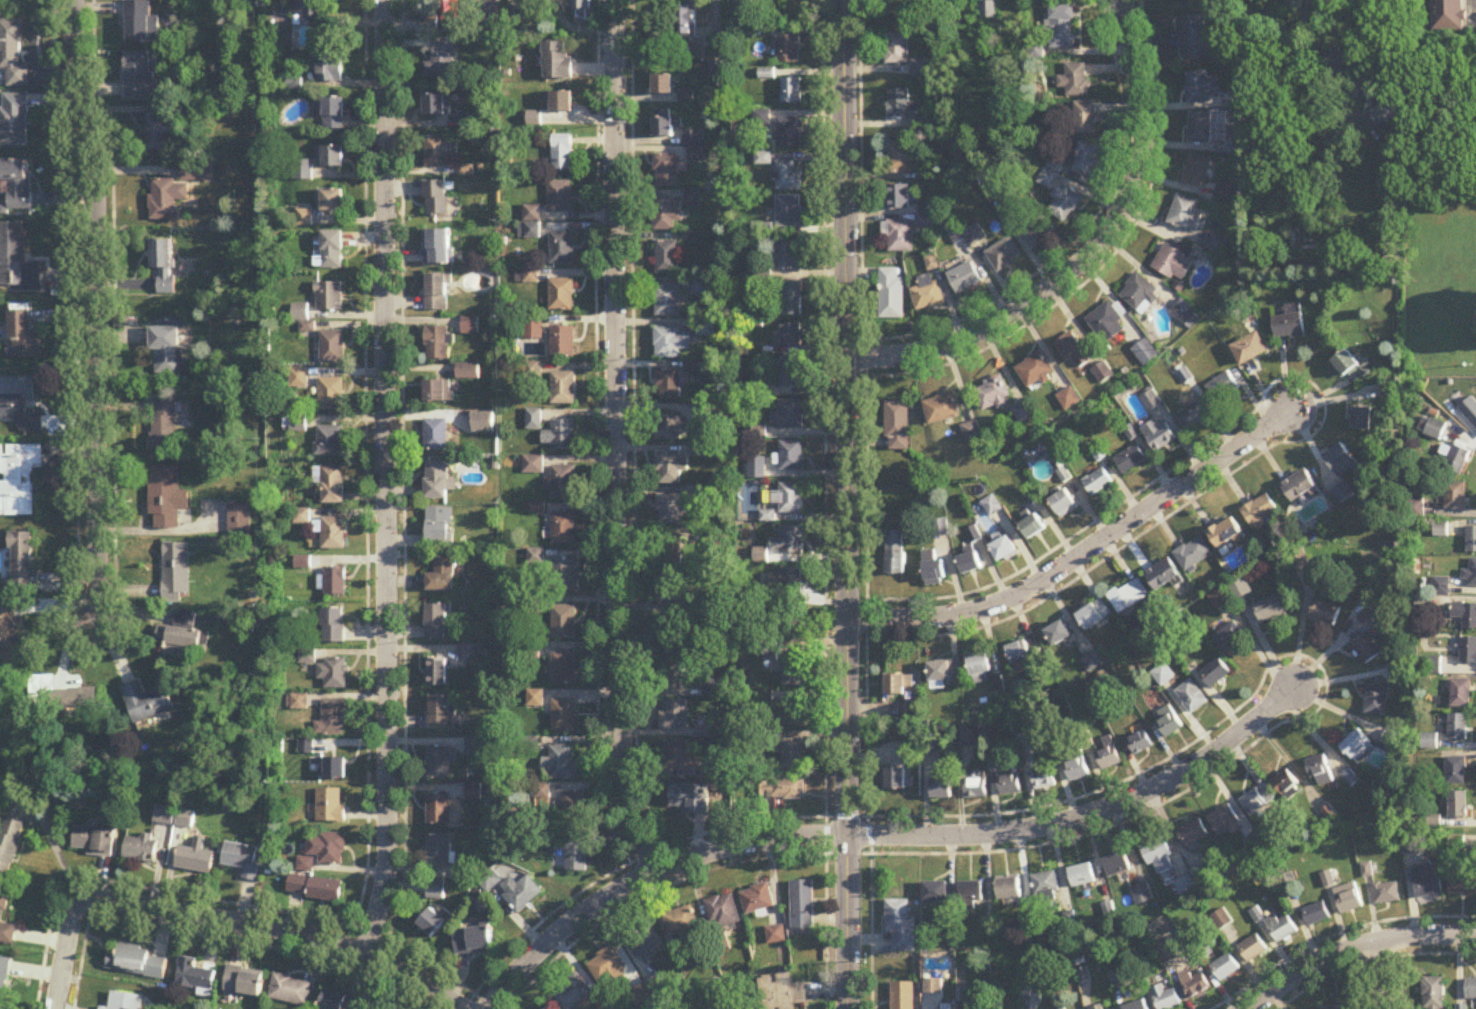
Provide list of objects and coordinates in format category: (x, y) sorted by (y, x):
building: (305, 8)
building: (449, 10)
building: (582, 10)
building: (987, 10)
building: (1447, 16)
building: (687, 21)
building: (140, 23)
building: (1061, 28)
building: (1194, 39)
building: (284, 44)
building: (788, 49)
building: (897, 49)
building: (441, 61)
building: (557, 62)
building: (1343, 63)
building: (327, 69)
building: (919, 69)
building: (140, 76)
building: (1075, 80)
building: (662, 85)
building: (1201, 89)
building: (792, 92)
building: (686, 98)
building: (1230, 101)
road: (1320, 101)
building: (560, 102)
building: (899, 103)
building: (16, 105)
building: (437, 105)
building: (330, 112)
building: (763, 118)
building: (1085, 118)
building: (665, 127)
building: (1199, 130)
building: (160, 134)
building: (790, 134)
building: (692, 145)
building: (1223, 148)
building: (436, 151)
building: (563, 153)
building: (330, 157)
building: (900, 158)
building: (1086, 160)
building: (304, 171)
building: (665, 171)
building: (1051, 171)
building: (1196, 171)
building: (789, 177)
building: (1222, 192)
building: (560, 197)
building: (897, 197)
building: (166, 199)
building: (436, 199)
building: (331, 200)
building: (1063, 203)
building: (789, 212)
building: (665, 214)
building: (1187, 215)
building: (925, 221)
building: (1037, 232)
road: (1080, 234)
building: (974, 236)
building: (900, 237)
building: (1217, 245)
building: (439, 247)
building: (562, 248)
building: (332, 250)
road: (1089, 254)
building: (788, 255)
building: (1003, 255)
building: (667, 257)
road: (1108, 261)
building: (1173, 263)
building: (163, 265)
building: (964, 279)
building: (438, 293)
building: (890, 294)
building: (926, 294)
building: (1139, 294)
building: (562, 295)
building: (330, 297)
building: (790, 300)
building: (667, 301)
road: (96, 311)
building: (1182, 312)
building: (1106, 323)
building: (1290, 323)
building: (471, 326)
building: (792, 337)
building: (563, 342)
building: (670, 343)
building: (438, 344)
building: (333, 347)
building: (165, 349)
building: (1249, 349)
building: (1072, 352)
building: (1146, 353)
building: (1344, 366)
building: (1035, 371)
building: (469, 372)
building: (791, 373)
building: (1103, 373)
building: (668, 384)
building: (1221, 388)
building: (563, 389)
building: (439, 392)
building: (333, 395)
building: (993, 396)
building: (1069, 400)
building: (1150, 401)
road: (1322, 401)
building: (941, 410)
building: (1024, 414)
building: (788, 416)
building: (1193, 417)
building: (1361, 420)
building: (483, 423)
building: (1475, 423)
building: (896, 427)
building: (22, 428)
building: (165, 428)
building: (1432, 429)
building: (670, 430)
building: (970, 432)
building: (436, 436)
building: (560, 436)
road: (615, 436)
building: (1158, 436)
building: (331, 442)
building: (791, 457)
building: (1458, 459)
building: (1130, 460)
building: (1340, 461)
building: (668, 468)
building: (755, 469)
road: (386, 477)
building: (438, 481)
building: (562, 483)
building: (1098, 483)
building: (332, 485)
building: (1301, 488)
building: (167, 490)
building: (1342, 493)
building: (1456, 496)
building: (789, 499)
road: (824, 504)
road: (846, 504)
road: (865, 504)
building: (1064, 505)
building: (670, 510)
building: (1261, 511)
building: (439, 526)
building: (1032, 528)
building: (563, 529)
building: (939, 529)
building: (1226, 533)
building: (333, 534)
building: (1471, 540)
building: (788, 541)
building: (1003, 550)
building: (670, 553)
building: (894, 554)
road: (1083, 554)
building: (1194, 554)
building: (969, 564)
building: (176, 572)
building: (934, 574)
building: (1163, 575)
building: (1471, 575)
building: (564, 576)
building: (442, 577)
building: (334, 582)
building: (786, 585)
building: (1240, 589)
building: (668, 590)
building: (1128, 596)
building: (1270, 610)
building: (1325, 613)
building: (1465, 615)
building: (1094, 616)
building: (564, 622)
building: (436, 623)
building: (793, 625)
building: (333, 626)
building: (673, 632)
building: (1058, 635)
building: (181, 636)
building: (1229, 637)
building: (1366, 648)
building: (1468, 651)
building: (1025, 658)
building: (1431, 666)
building: (564, 669)
building: (980, 670)
building: (792, 671)
building: (436, 673)
building: (333, 674)
building: (670, 674)
building: (943, 674)
building: (1215, 674)
building: (1163, 675)
building: (899, 686)
building: (1460, 694)
building: (58, 696)
building: (1191, 698)
road: (1323, 698)
building: (535, 699)
building: (1375, 701)
building: (147, 702)
building: (440, 712)
building: (674, 715)
building: (792, 715)
building: (564, 716)
building: (332, 719)
building: (1168, 723)
building: (1457, 728)
building: (1430, 742)
building: (1025, 744)
building: (1140, 744)
building: (1357, 748)
building: (793, 755)
building: (1108, 755)
building: (675, 757)
building: (910, 757)
building: (561, 764)
building: (438, 765)
building: (333, 770)
building: (1077, 771)
building: (1456, 772)
building: (1322, 777)
building: (1043, 780)
building: (894, 781)
building: (1010, 787)
building: (780, 789)
building: (941, 790)
building: (976, 790)
building: (1289, 790)
building: (472, 794)
building: (690, 799)
building: (1257, 801)
building: (1458, 806)
building: (330, 807)
building: (574, 809)
building: (438, 811)
road: (846, 817)
building: (185, 820)
building: (1223, 821)
road: (886, 835)
building: (1192, 835)
building: (93, 841)
building: (11, 843)
building: (141, 849)
road: (57, 851)
building: (438, 851)
building: (323, 852)
building: (573, 852)
building: (1159, 857)
building: (195, 859)
building: (242, 860)
building: (1117, 866)
building: (1082, 876)
building: (1201, 876)
building: (491, 881)
building: (1427, 883)
building: (1462, 884)
building: (1046, 885)
building: (1184, 887)
building: (314, 889)
building: (1009, 889)
building: (436, 891)
building: (521, 893)
building: (937, 893)
building: (1386, 894)
building: (971, 896)
building: (1142, 896)
building: (757, 900)
building: (1348, 900)
building: (802, 906)
building: (722, 912)
building: (1316, 916)
building: (681, 922)
building: (431, 924)
building: (899, 925)
building: (1281, 929)
road: (277, 931)
building: (775, 935)
road: (1334, 936)
building: (473, 941)
building: (645, 942)
building: (7, 946)
building: (1253, 950)
road: (66, 954)
road: (1350, 954)
building: (136, 962)
road: (1370, 962)
building: (608, 969)
building: (1226, 970)
building: (194, 977)
road: (1383, 977)
building: (244, 982)
building: (933, 986)
building: (1196, 986)
building: (783, 988)
building: (1471, 990)
building: (291, 991)
building: (573, 993)
building: (1434, 994)
building: (903, 996)
building: (1166, 998)
building: (339, 1001)
building: (129, 1002)
building: (1138, 1006)
building: (102, 1008)
building: (396, 1008)
building: (1099, 1008)
building: (1332, 1008)

